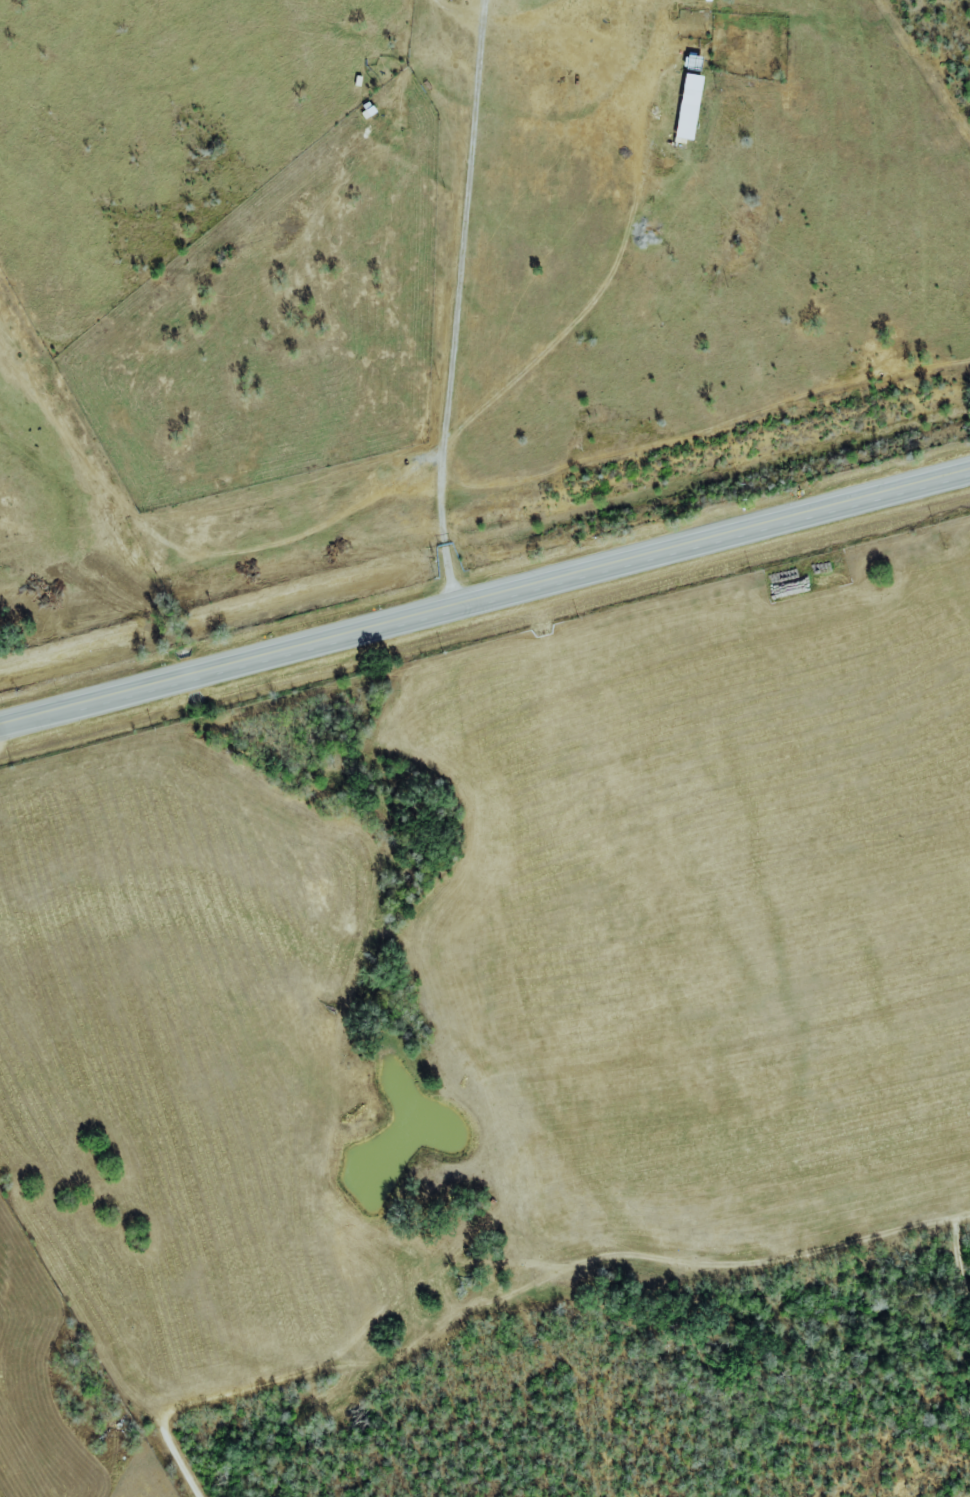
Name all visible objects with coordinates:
road: (459, 303)
road: (484, 598)

